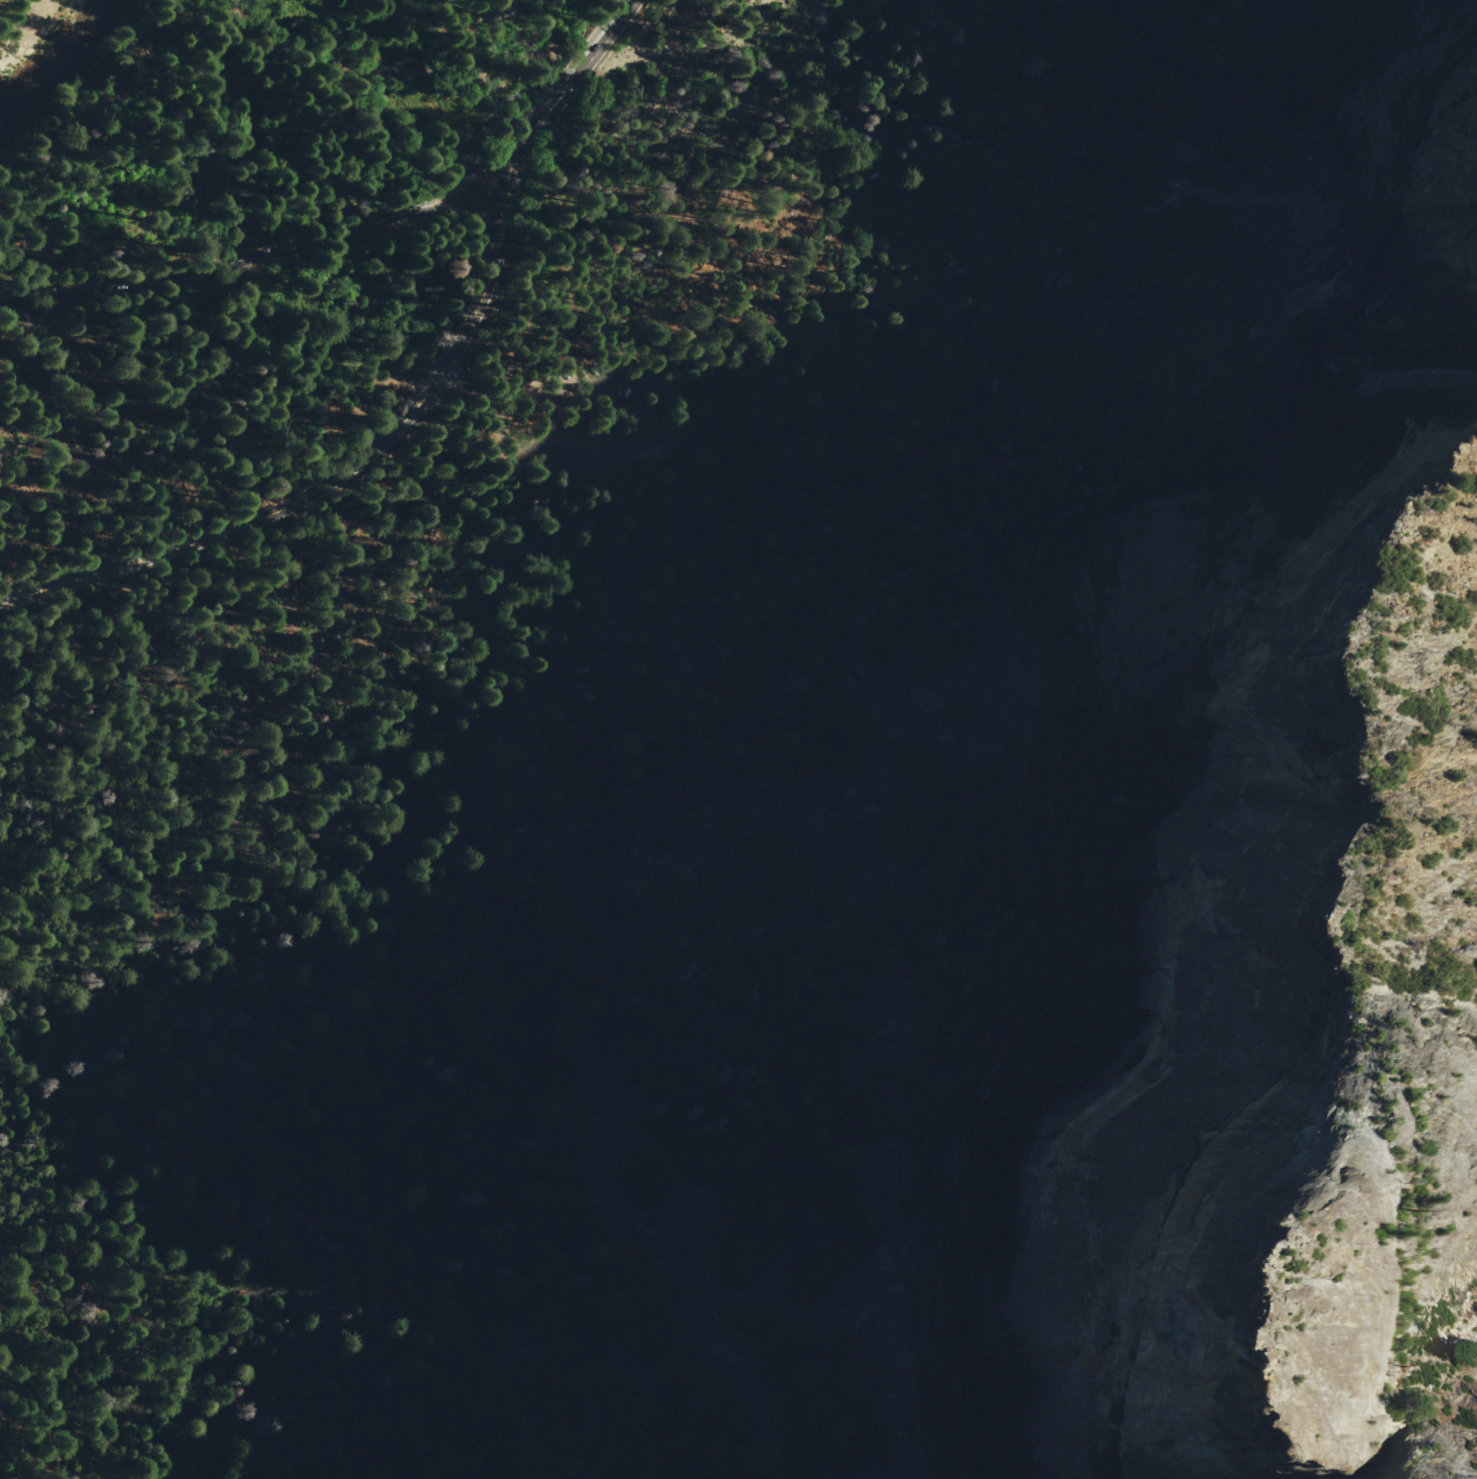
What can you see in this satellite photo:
parking lot: (599, 41)
river: (44, 47)
road: (584, 73)
road: (926, 92)
road: (134, 93)
road: (476, 170)
road: (497, 202)
road: (1072, 202)
road: (476, 223)
road: (219, 266)
road: (760, 300)
road: (488, 367)
parking lot: (683, 412)
road: (673, 414)
road: (337, 479)
road: (43, 587)

